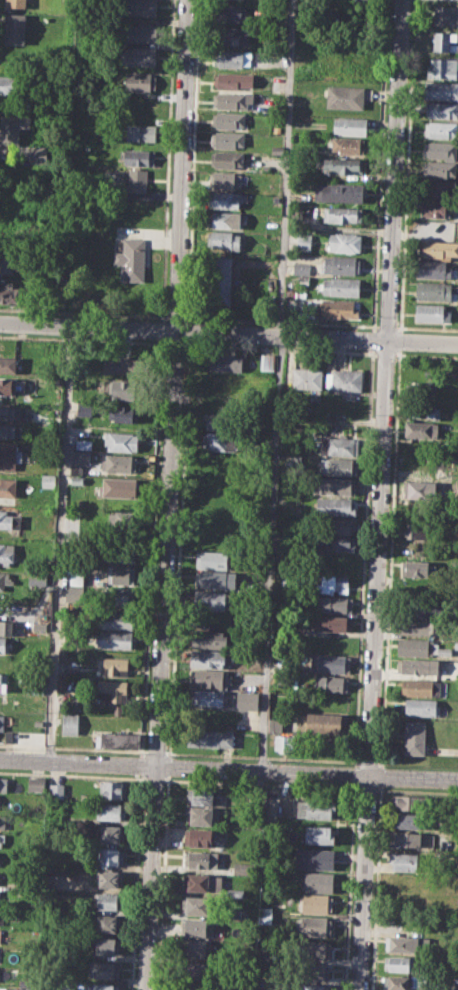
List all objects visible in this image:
building: (356, 0)
building: (366, 0)
building: (16, 3)
building: (139, 8)
building: (232, 12)
building: (445, 15)
building: (14, 28)
building: (139, 33)
building: (233, 36)
building: (444, 41)
building: (139, 55)
building: (232, 58)
building: (441, 67)
building: (232, 80)
building: (140, 81)
building: (10, 84)
building: (441, 90)
building: (345, 97)
building: (233, 100)
building: (442, 110)
building: (229, 120)
building: (350, 125)
building: (13, 128)
building: (440, 129)
building: (141, 132)
building: (228, 139)
building: (349, 144)
building: (278, 149)
building: (440, 149)
building: (39, 155)
building: (139, 157)
building: (227, 158)
road: (167, 159)
building: (343, 165)
building: (265, 167)
building: (439, 168)
building: (227, 179)
building: (136, 181)
building: (438, 188)
building: (338, 192)
building: (302, 196)
building: (224, 199)
building: (276, 199)
road: (405, 204)
road: (379, 206)
building: (436, 208)
building: (342, 214)
building: (224, 218)
building: (223, 240)
building: (344, 241)
building: (302, 242)
building: (437, 248)
building: (131, 258)
building: (10, 260)
building: (341, 265)
building: (300, 268)
building: (433, 269)
building: (219, 280)
building: (340, 286)
building: (434, 291)
building: (12, 292)
building: (335, 308)
road: (83, 311)
building: (430, 312)
road: (178, 316)
road: (283, 321)
road: (387, 326)
road: (398, 326)
road: (429, 327)
road: (161, 328)
road: (228, 332)
road: (83, 338)
road: (373, 339)
road: (400, 340)
road: (175, 342)
road: (280, 347)
road: (400, 350)
road: (386, 353)
road: (397, 353)
building: (224, 360)
building: (267, 362)
building: (122, 364)
building: (8, 365)
building: (306, 378)
building: (345, 380)
road: (277, 384)
building: (11, 387)
building: (221, 389)
building: (127, 390)
building: (421, 391)
building: (84, 407)
building: (423, 412)
building: (9, 413)
building: (124, 413)
building: (220, 422)
building: (423, 429)
building: (10, 430)
building: (121, 440)
building: (218, 442)
building: (83, 443)
building: (339, 446)
building: (10, 452)
building: (81, 458)
building: (120, 462)
building: (340, 466)
building: (49, 480)
building: (336, 485)
building: (7, 487)
building: (121, 487)
building: (421, 489)
road: (380, 494)
road: (168, 495)
building: (335, 506)
building: (9, 520)
building: (122, 521)
building: (343, 526)
building: (422, 529)
road: (391, 530)
road: (59, 542)
building: (337, 543)
road: (151, 546)
building: (7, 553)
building: (122, 553)
road: (364, 554)
building: (213, 559)
building: (418, 568)
building: (120, 575)
building: (76, 577)
building: (35, 579)
building: (216, 579)
building: (5, 580)
building: (290, 581)
building: (333, 583)
building: (71, 593)
building: (118, 597)
building: (213, 600)
building: (334, 604)
building: (418, 608)
building: (115, 619)
building: (333, 623)
building: (417, 626)
building: (6, 627)
building: (40, 628)
building: (113, 639)
building: (209, 639)
building: (4, 645)
building: (415, 647)
building: (444, 651)
building: (63, 654)
building: (208, 658)
building: (328, 663)
building: (115, 666)
building: (416, 666)
building: (210, 679)
building: (3, 682)
building: (63, 683)
building: (333, 683)
building: (418, 687)
building: (113, 691)
building: (206, 698)
building: (247, 701)
building: (421, 707)
building: (118, 709)
building: (38, 723)
building: (70, 723)
building: (322, 723)
building: (1, 726)
building: (210, 737)
building: (414, 737)
building: (118, 740)
building: (285, 743)
building: (334, 745)
road: (73, 748)
road: (156, 751)
road: (262, 756)
road: (368, 762)
road: (378, 762)
road: (140, 764)
road: (229, 768)
road: (380, 775)
building: (3, 784)
building: (36, 784)
building: (115, 790)
road: (419, 790)
building: (57, 791)
building: (202, 796)
building: (411, 803)
building: (316, 809)
building: (111, 811)
building: (203, 815)
building: (410, 820)
building: (2, 821)
building: (112, 834)
building: (319, 834)
building: (200, 836)
building: (2, 837)
building: (408, 840)
building: (110, 856)
building: (203, 858)
building: (314, 858)
building: (404, 861)
building: (241, 869)
building: (109, 879)
road: (135, 881)
building: (318, 881)
building: (203, 882)
road: (376, 887)
building: (236, 893)
building: (108, 901)
building: (316, 903)
building: (202, 905)
building: (236, 913)
building: (264, 915)
building: (0, 917)
building: (107, 923)
building: (314, 925)
building: (201, 927)
building: (408, 944)
building: (105, 945)
building: (197, 947)
building: (314, 948)
building: (399, 962)
building: (105, 969)
building: (197, 970)
building: (313, 971)
building: (400, 982)
building: (103, 986)
building: (195, 986)
building: (313, 986)
building: (30, 989)

